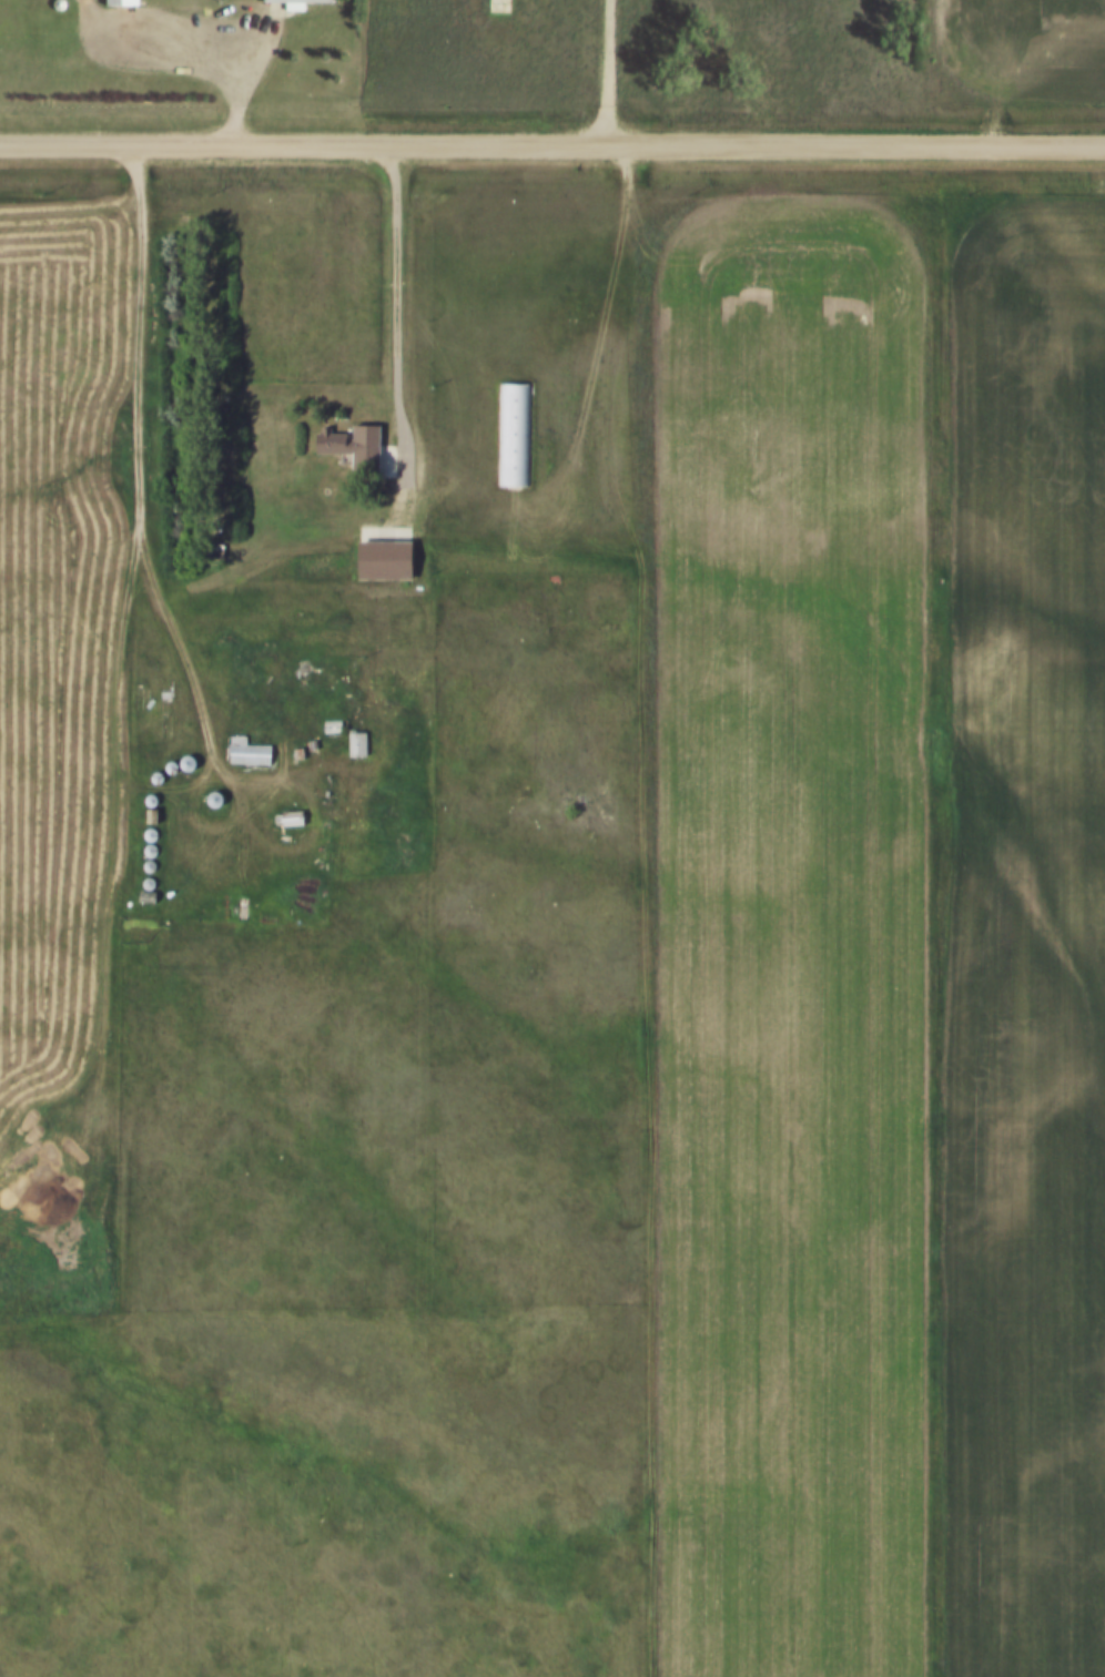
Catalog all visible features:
building: (302, 1)
building: (65, 2)
silo: (65, 2)
building: (123, 2)
building: (496, 6)
road: (236, 35)
road: (606, 72)
road: (552, 145)
road: (397, 306)
road: (544, 317)
building: (520, 431)
building: (361, 444)
road: (138, 474)
building: (391, 553)
building: (339, 722)
building: (365, 740)
building: (318, 741)
building: (254, 748)
building: (306, 749)
building: (193, 759)
silo: (193, 759)
building: (178, 763)
silo: (178, 763)
building: (163, 773)
silo: (163, 773)
building: (221, 794)
silo: (221, 794)
building: (158, 796)
silo: (158, 796)
building: (158, 812)
building: (296, 814)
building: (156, 830)
silo: (156, 830)
building: (156, 846)
silo: (156, 846)
building: (155, 862)
silo: (155, 862)
building: (155, 878)
silo: (155, 878)
building: (154, 893)

